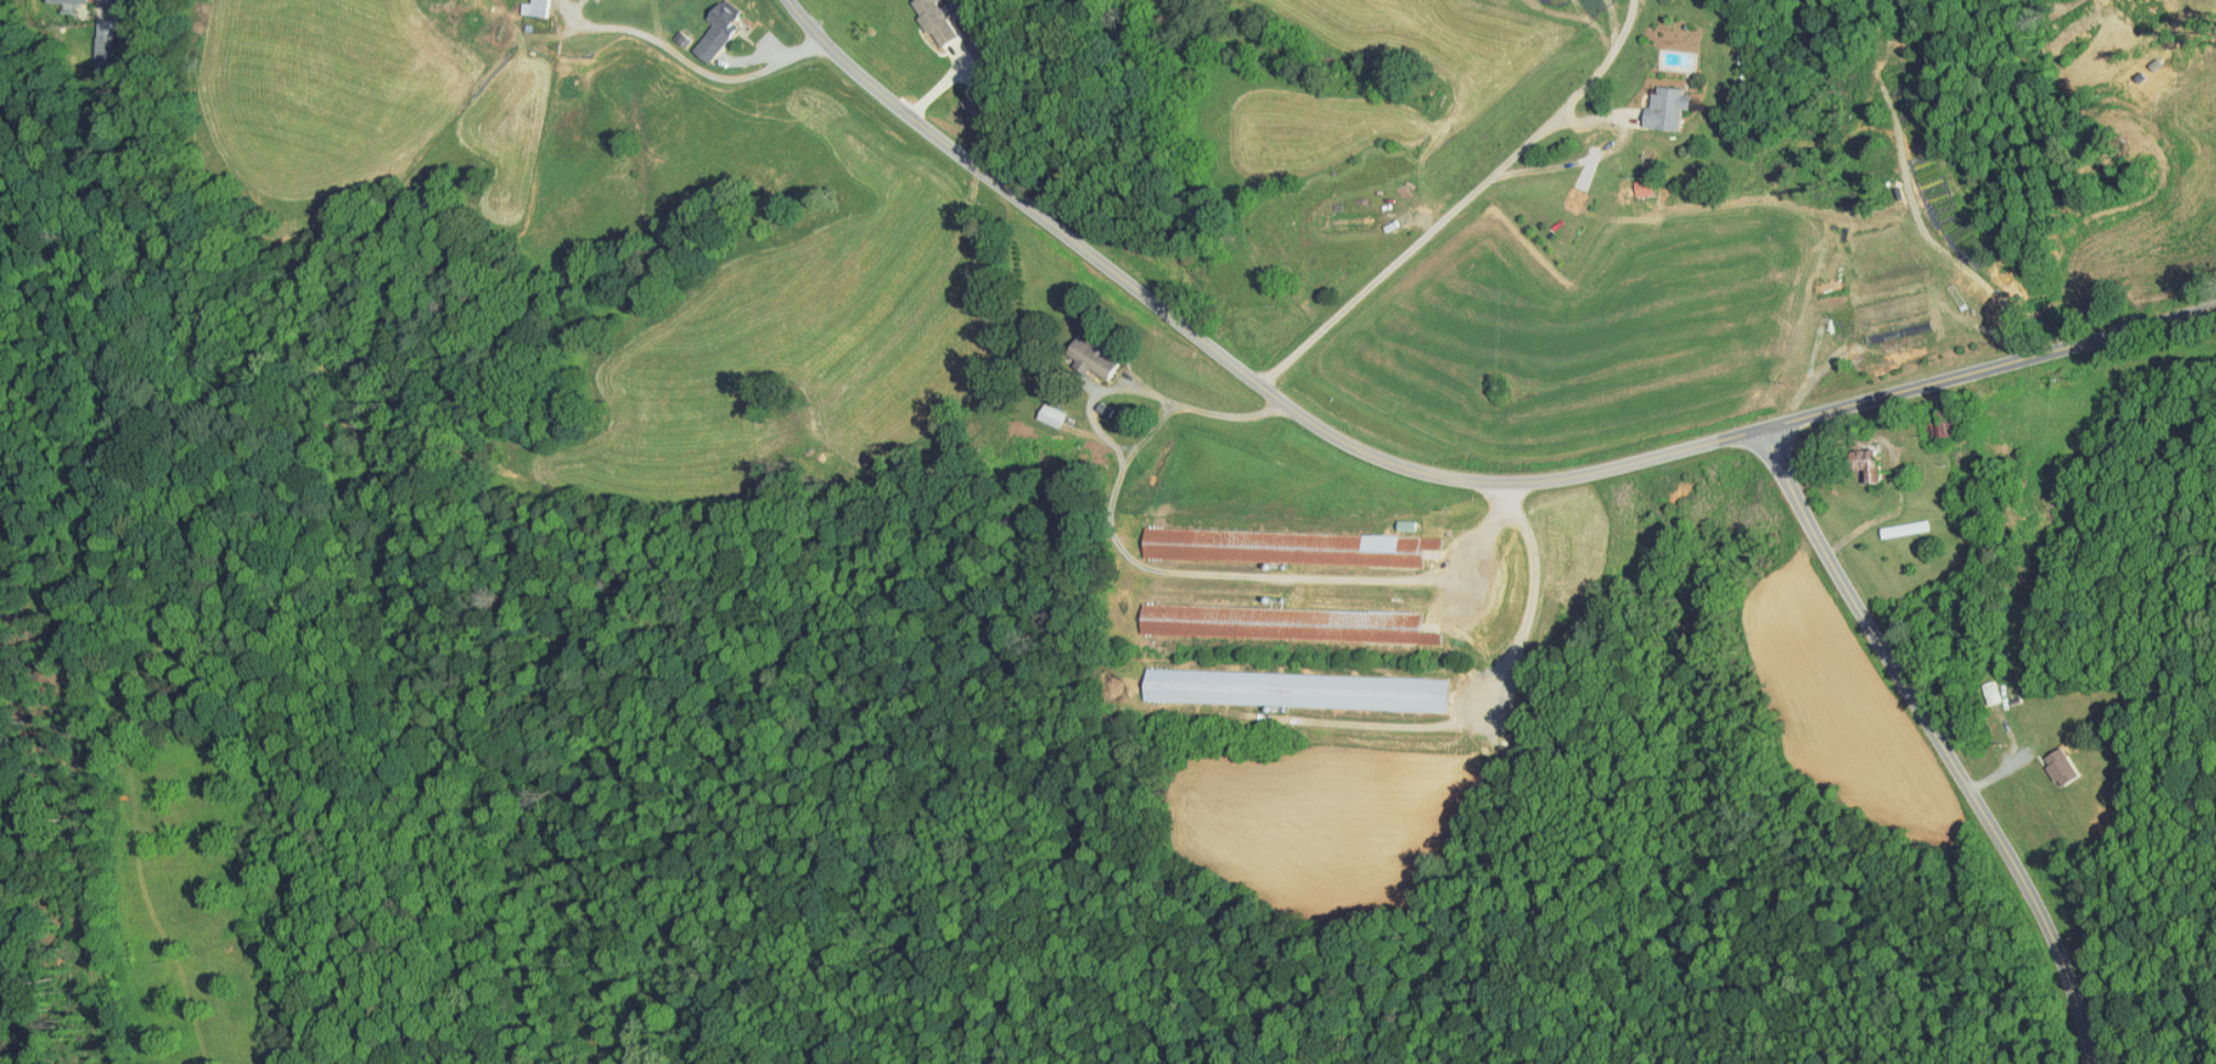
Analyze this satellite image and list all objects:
building: (529, 3)
building: (930, 15)
building: (711, 23)
road: (694, 64)
building: (1661, 101)
building: (1636, 181)
road: (1464, 202)
building: (1089, 351)
building: (1045, 409)
building: (1867, 463)
road: (1435, 468)
building: (1190, 538)
road: (1182, 573)
road: (1534, 594)
building: (1176, 612)
building: (1289, 683)
building: (1982, 685)
road: (1943, 740)
building: (2055, 760)

